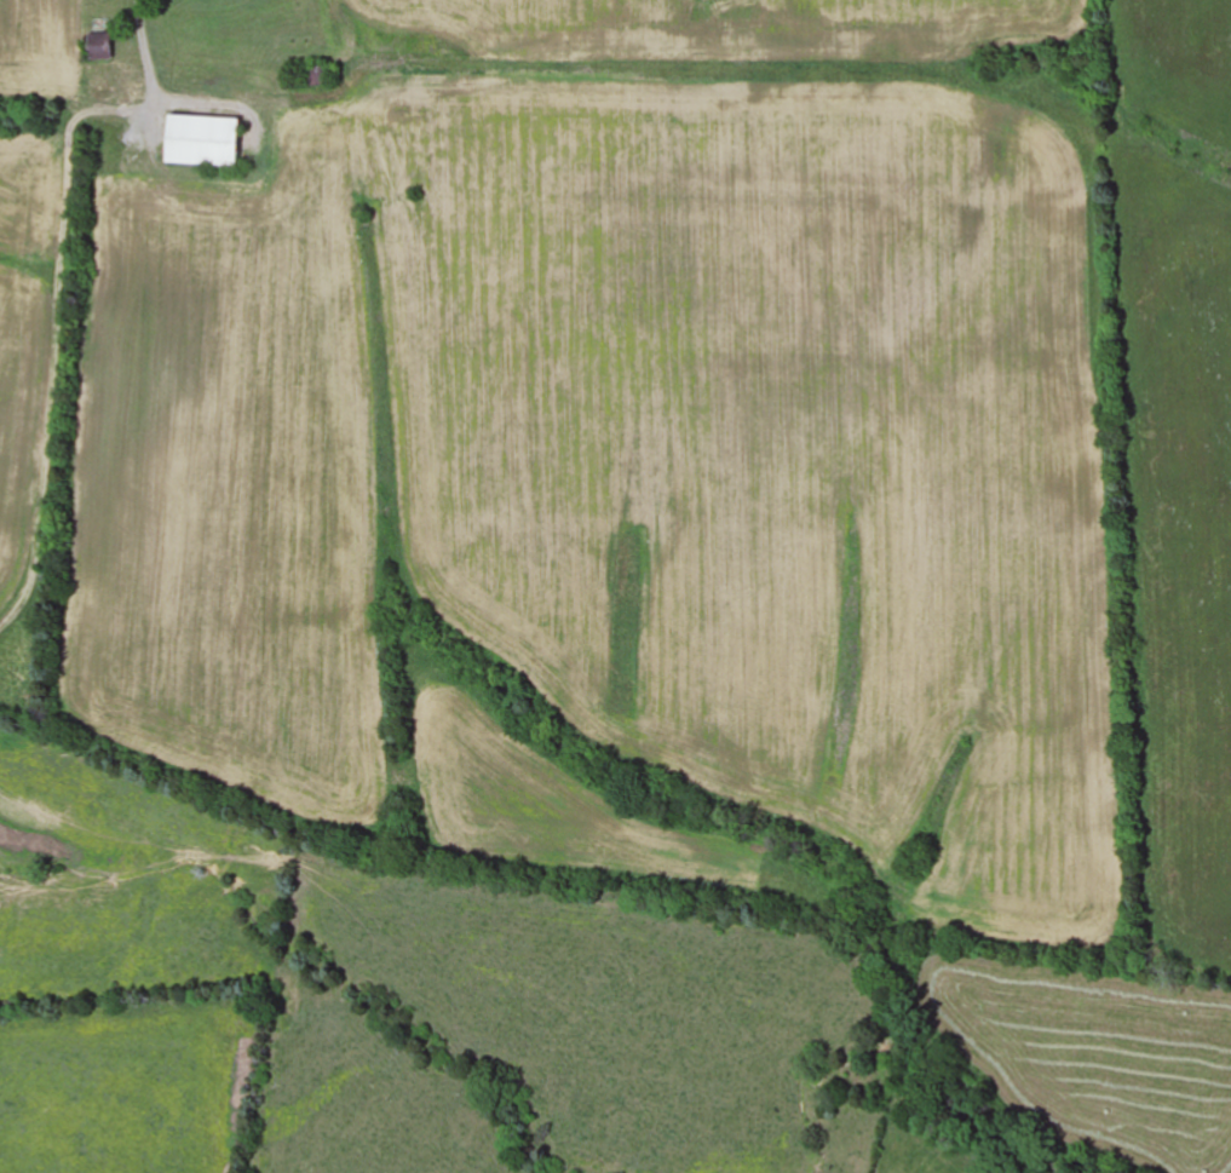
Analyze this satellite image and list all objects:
building: (102, 46)
building: (207, 142)
road: (23, 163)

